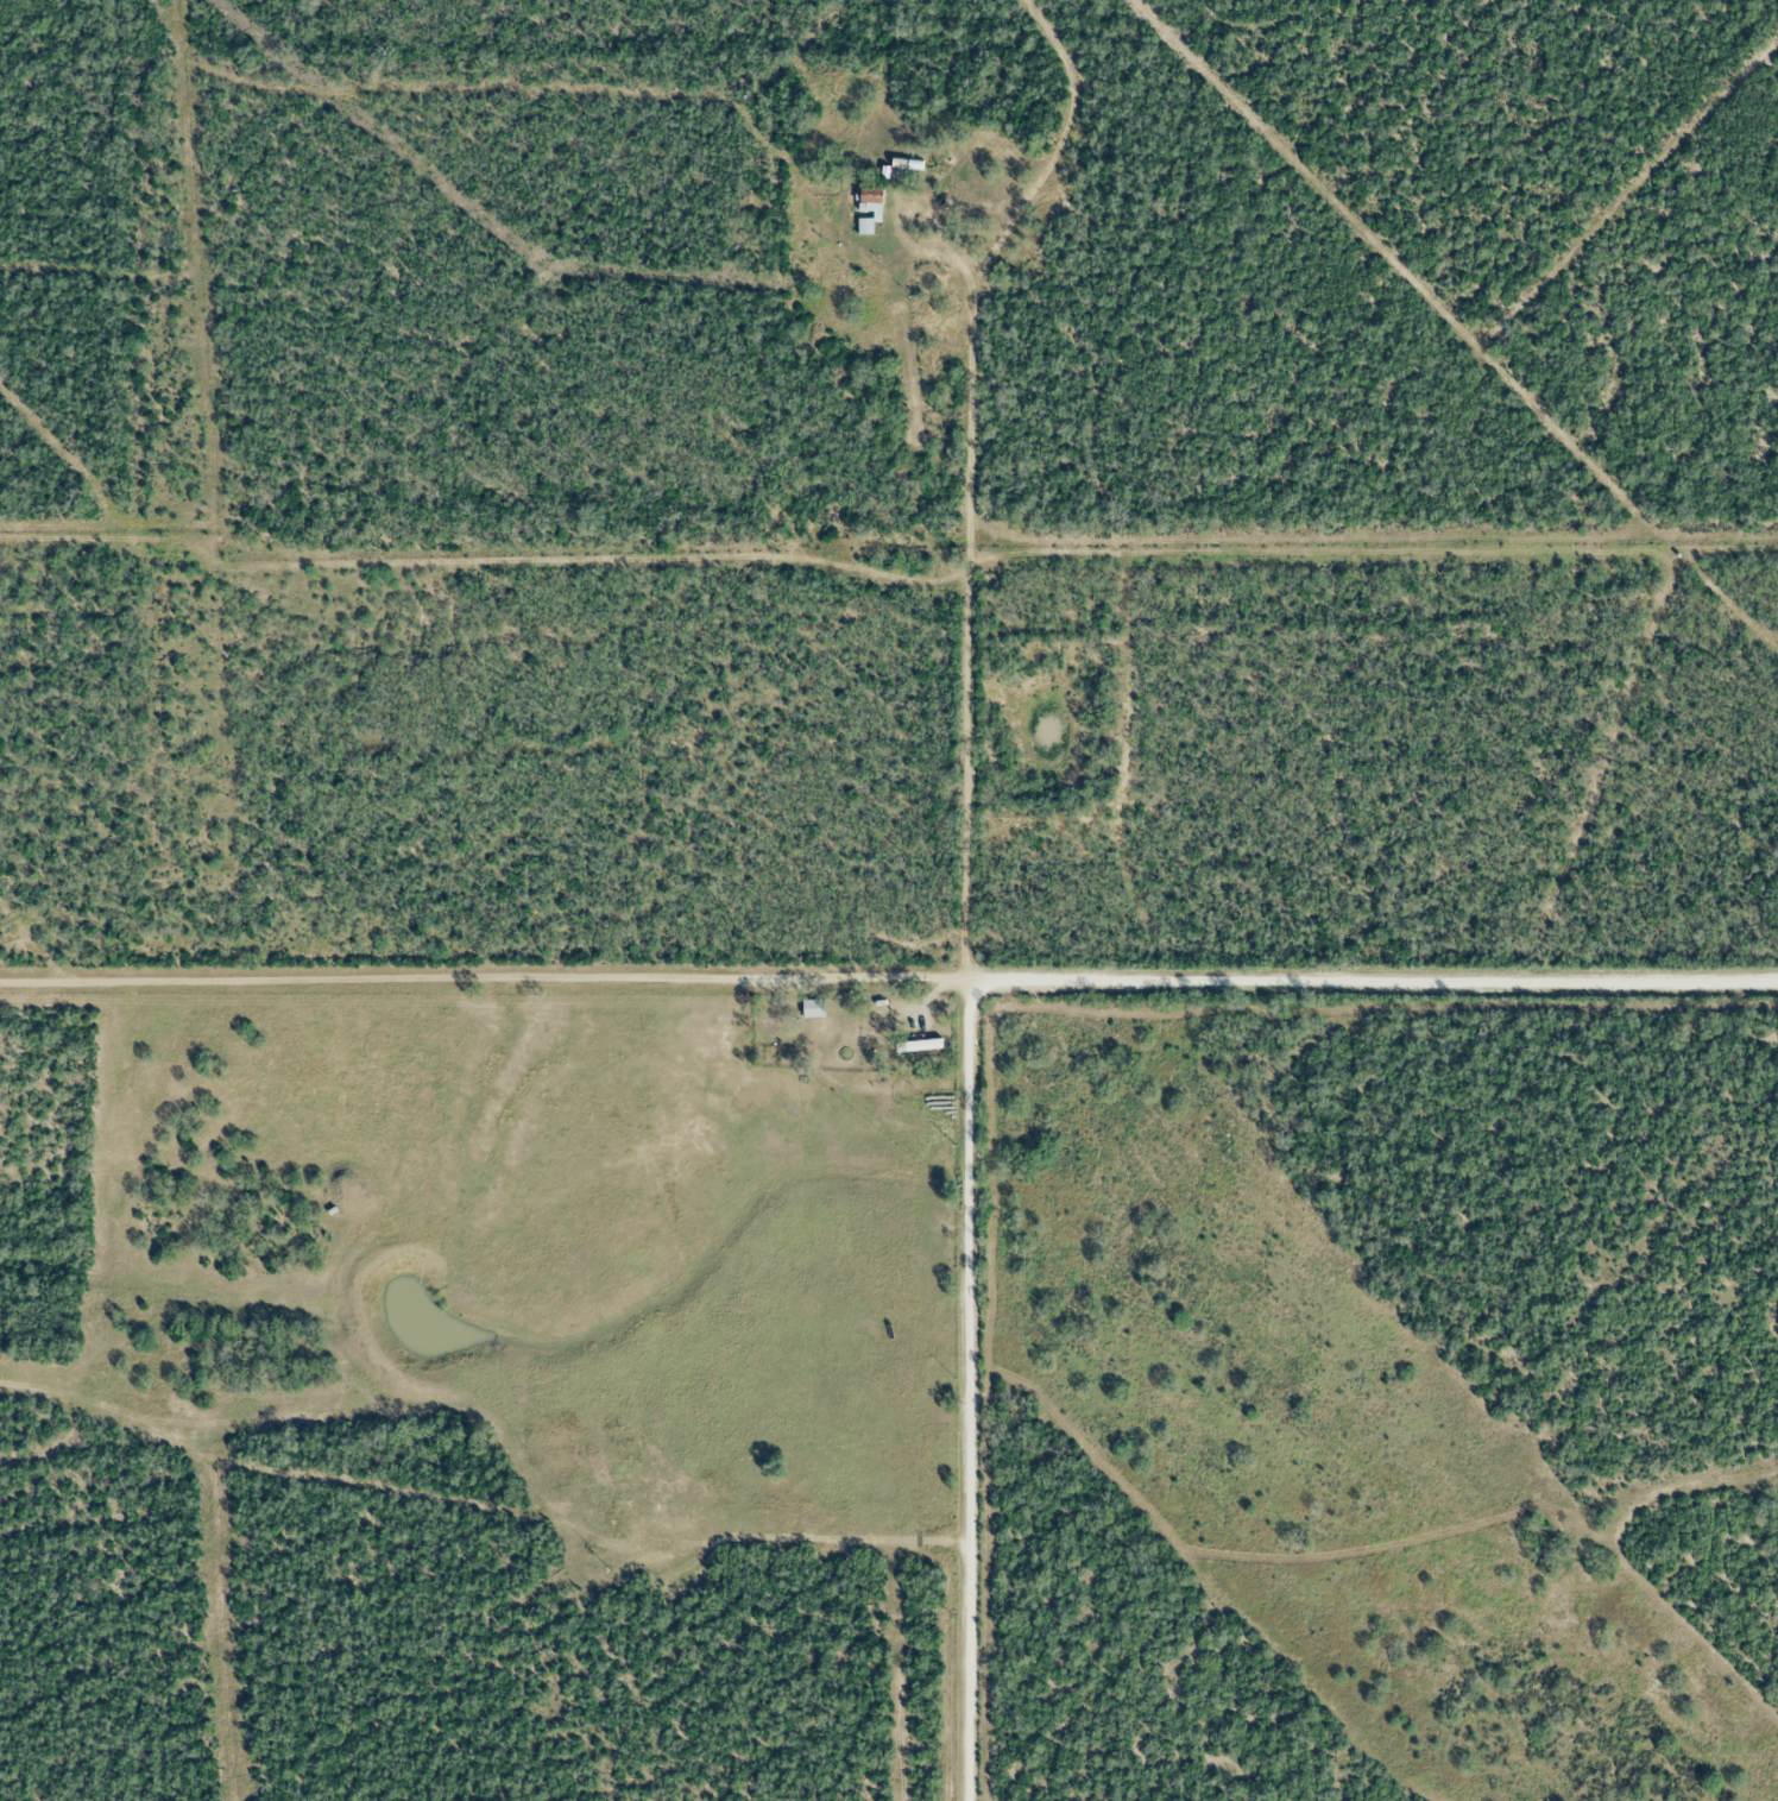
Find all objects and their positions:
building: (903, 160)
building: (869, 203)
road: (965, 621)
road: (484, 975)
road: (1373, 978)
building: (812, 1006)
building: (919, 1043)
road: (967, 1390)

